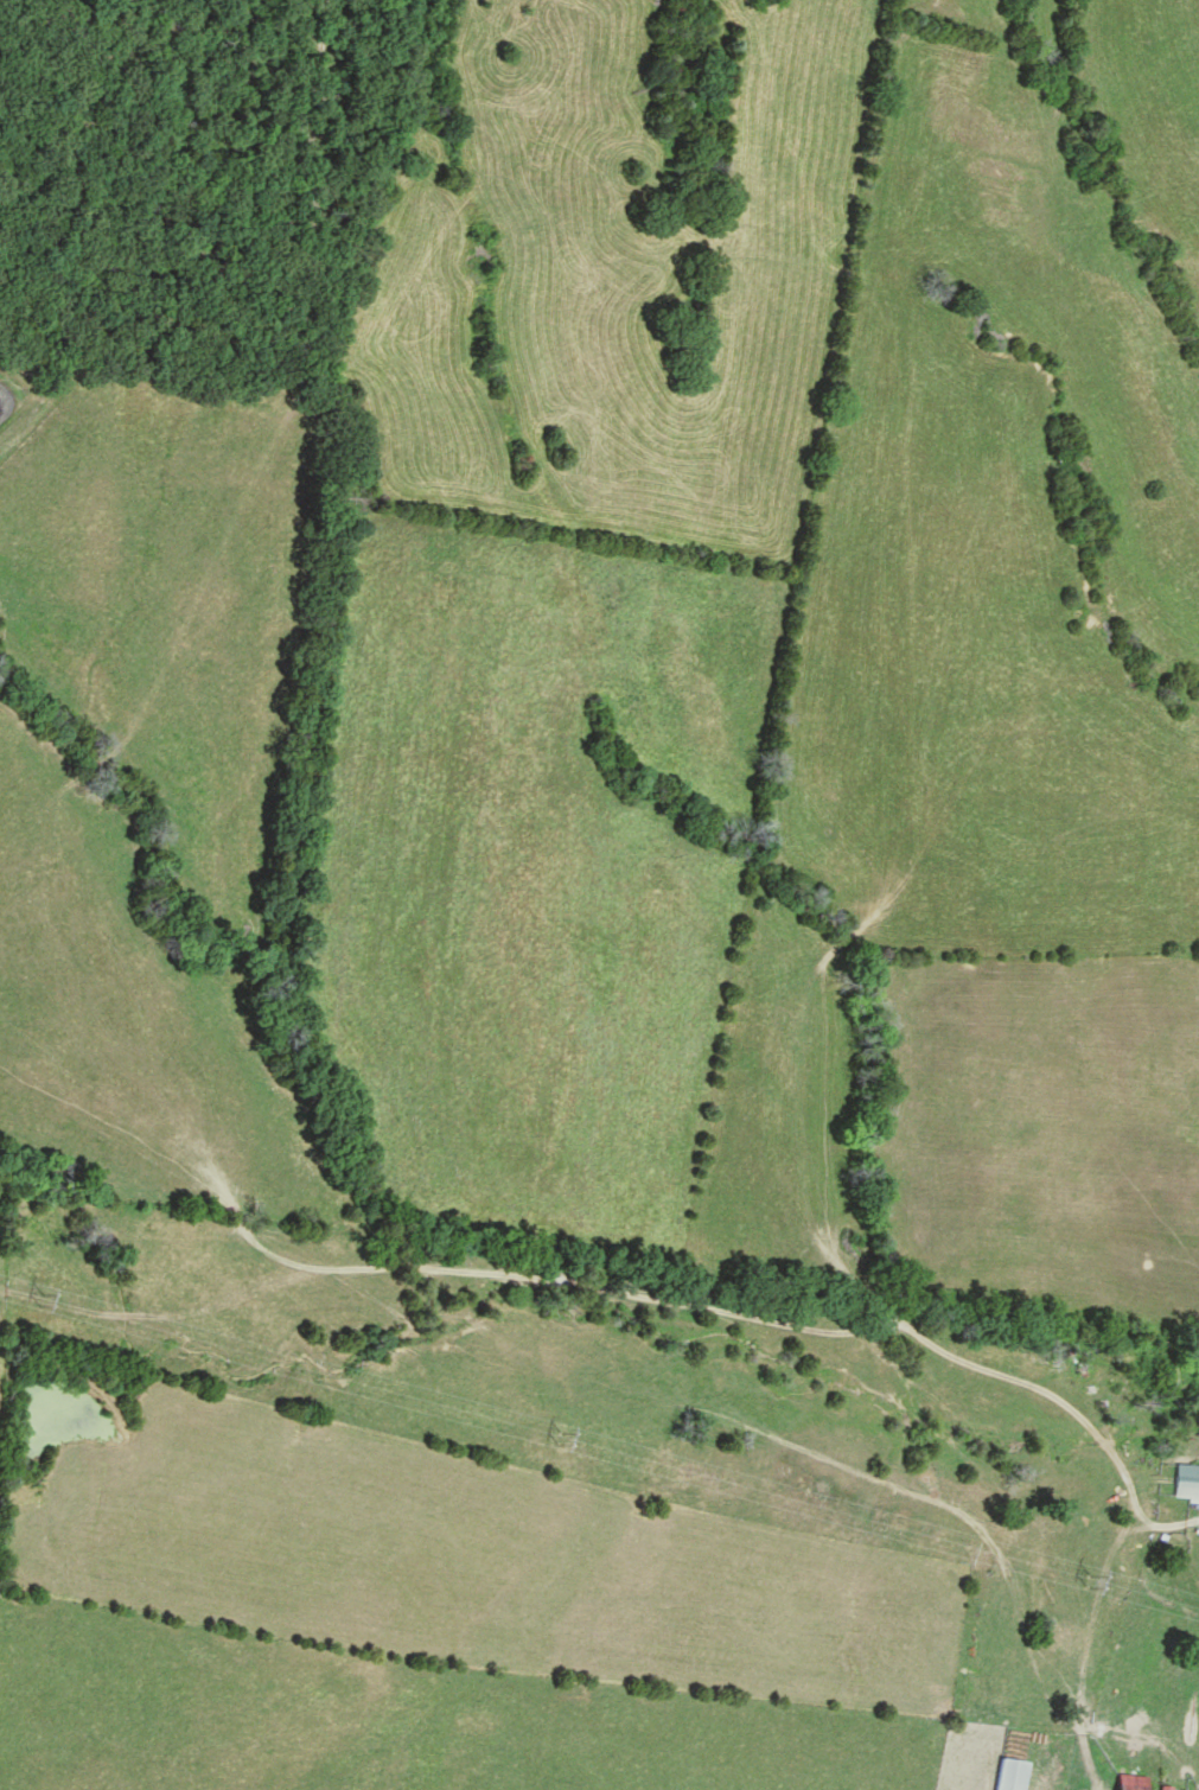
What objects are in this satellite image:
building: (1187, 1482)
building: (1013, 1775)
building: (1133, 1783)

